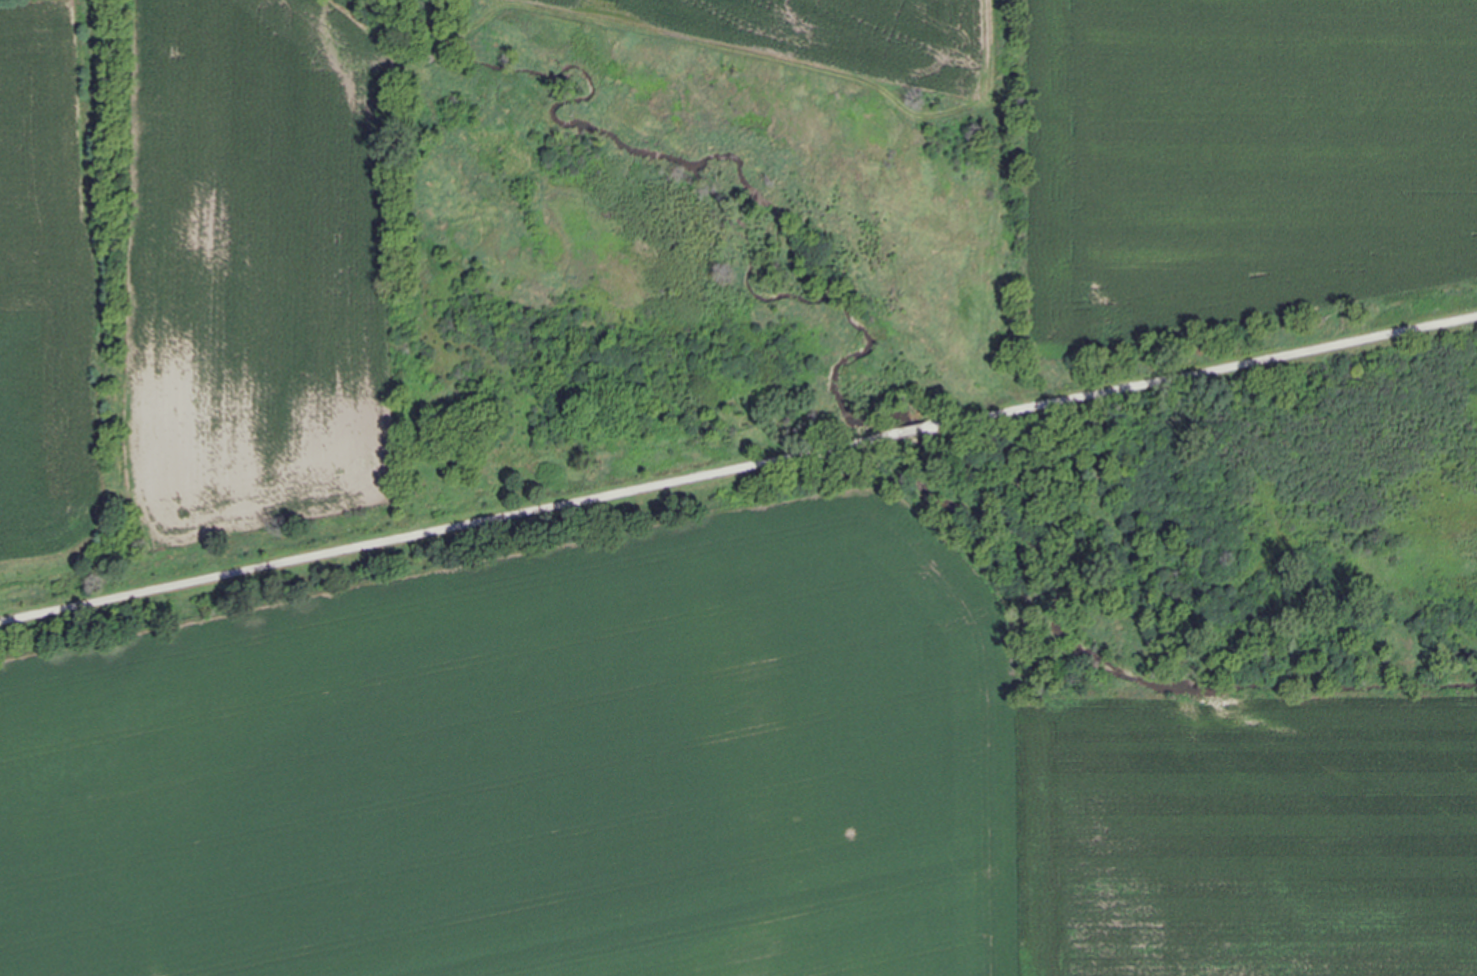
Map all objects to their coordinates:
road: (738, 466)

